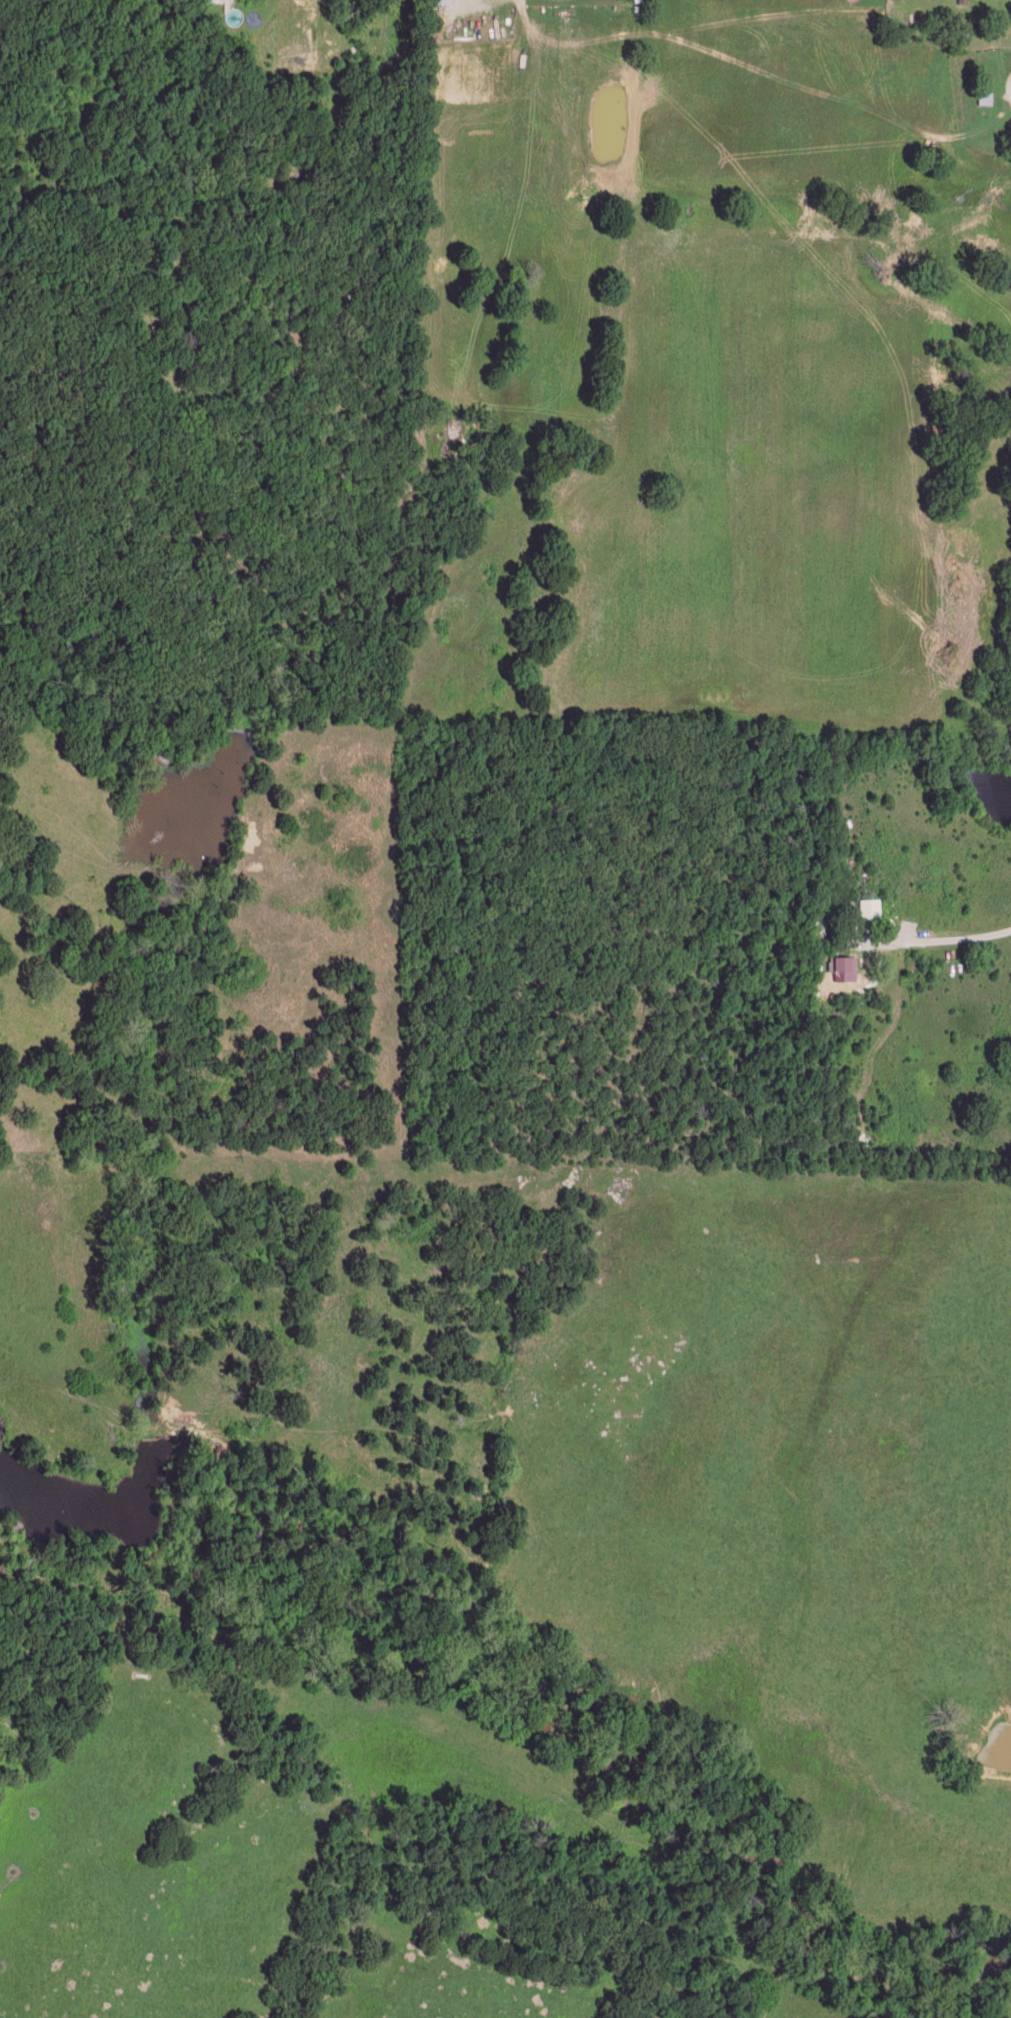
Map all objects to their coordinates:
building: (440, 0)
building: (986, 95)
building: (871, 906)
road: (929, 942)
building: (845, 961)

